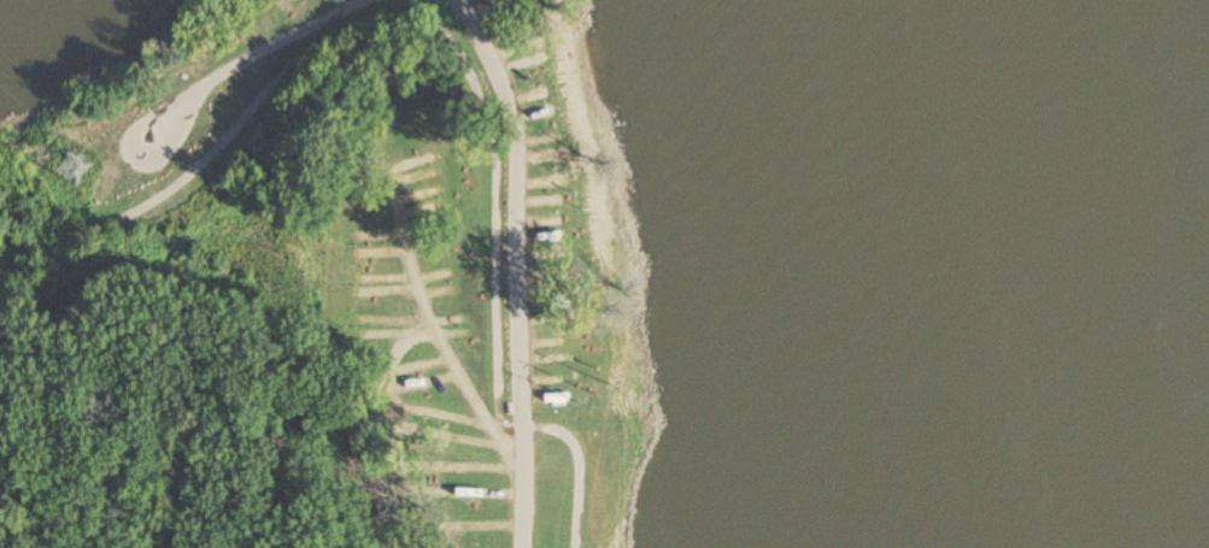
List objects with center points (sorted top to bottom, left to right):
road: (459, 46)
road: (256, 57)
power tower: (82, 176)
road: (521, 270)
river: (1082, 273)
park: (327, 287)
power tower: (586, 388)

